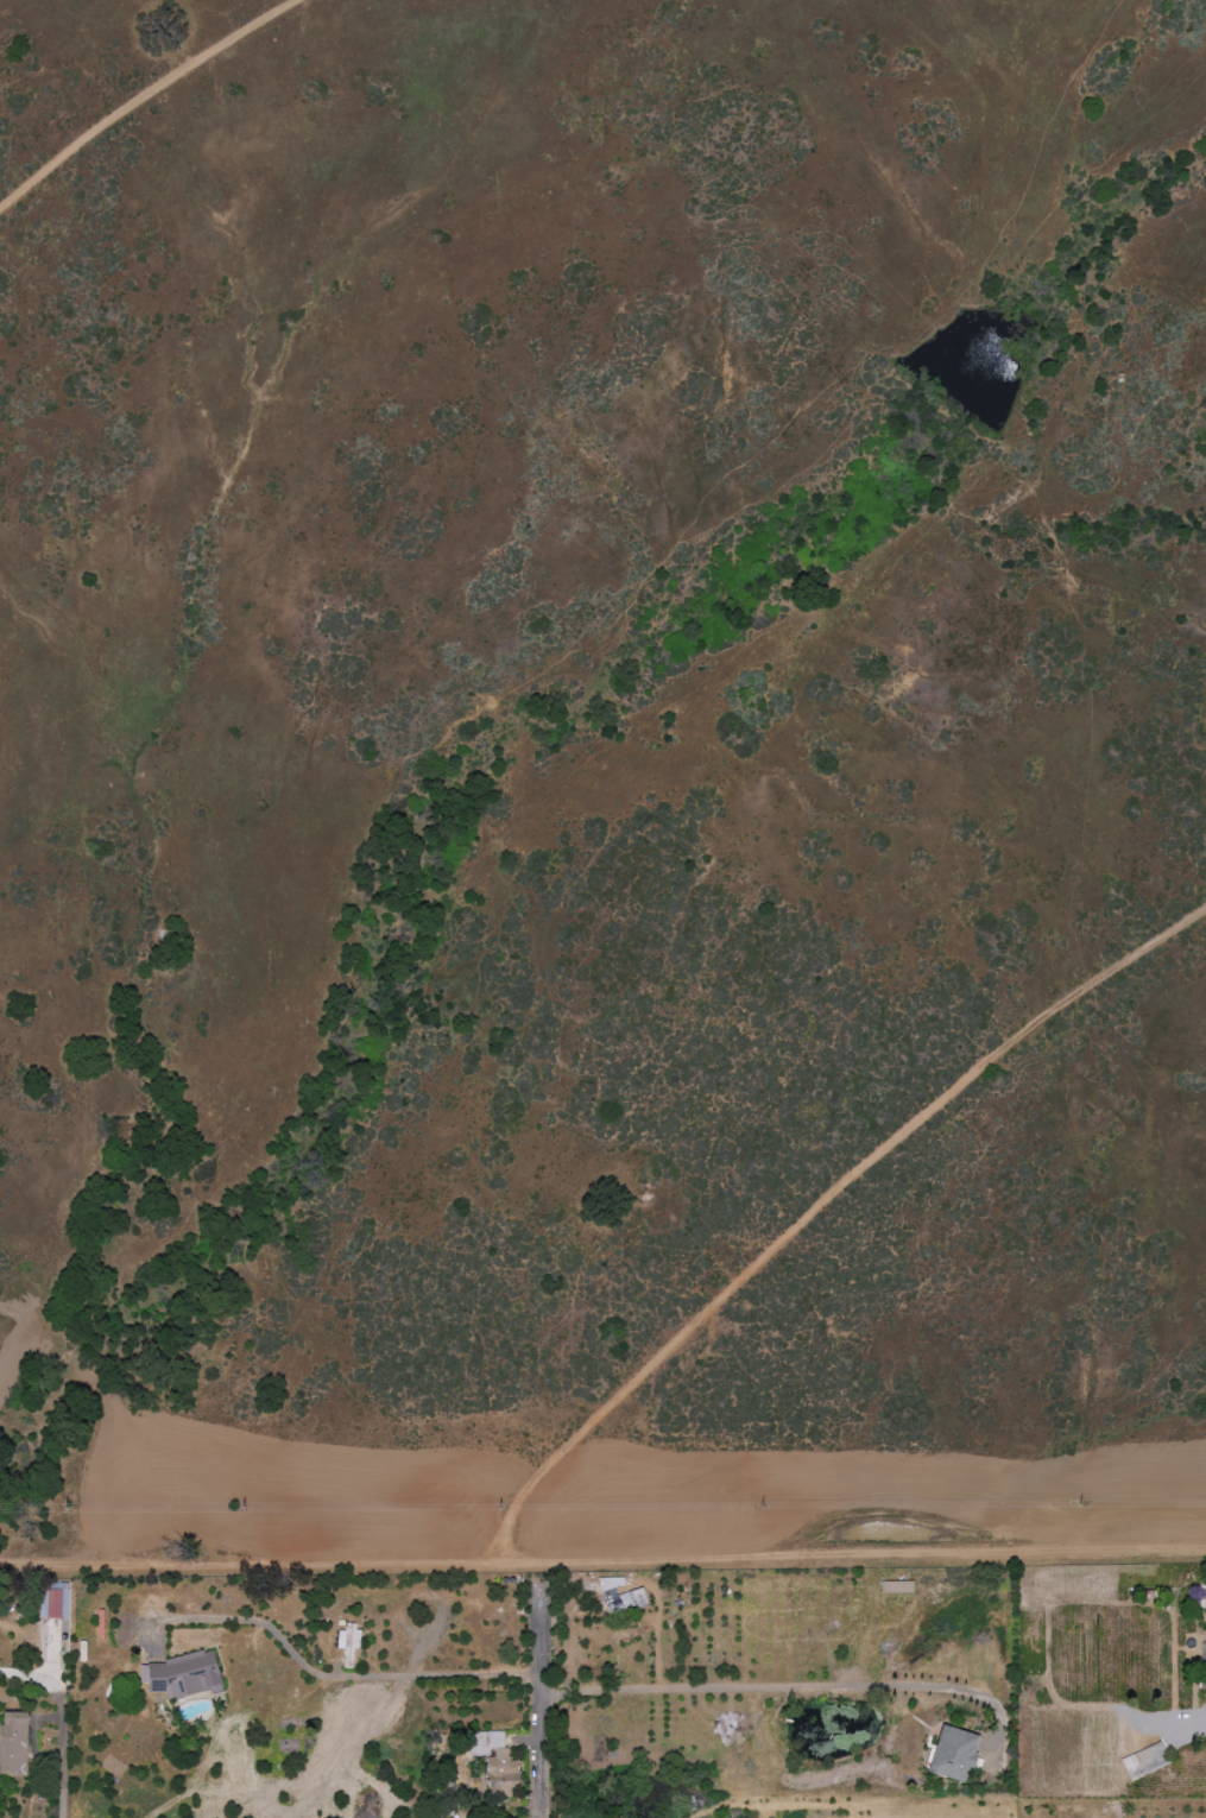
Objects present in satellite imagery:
road: (602, 1563)
building: (610, 1584)
building: (897, 1586)
building: (625, 1601)
building: (55, 1604)
building: (348, 1642)
building: (182, 1674)
road: (335, 1677)
road: (31, 1678)
road: (784, 1688)
road: (542, 1706)
building: (14, 1744)
building: (956, 1754)
road: (61, 1755)
building: (500, 1759)
building: (1145, 1761)

